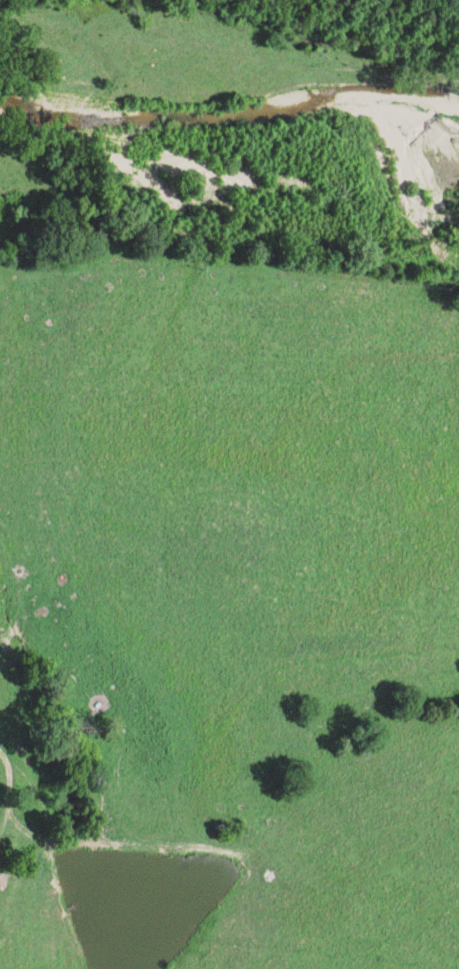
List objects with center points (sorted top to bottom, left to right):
building: (2, 877)

